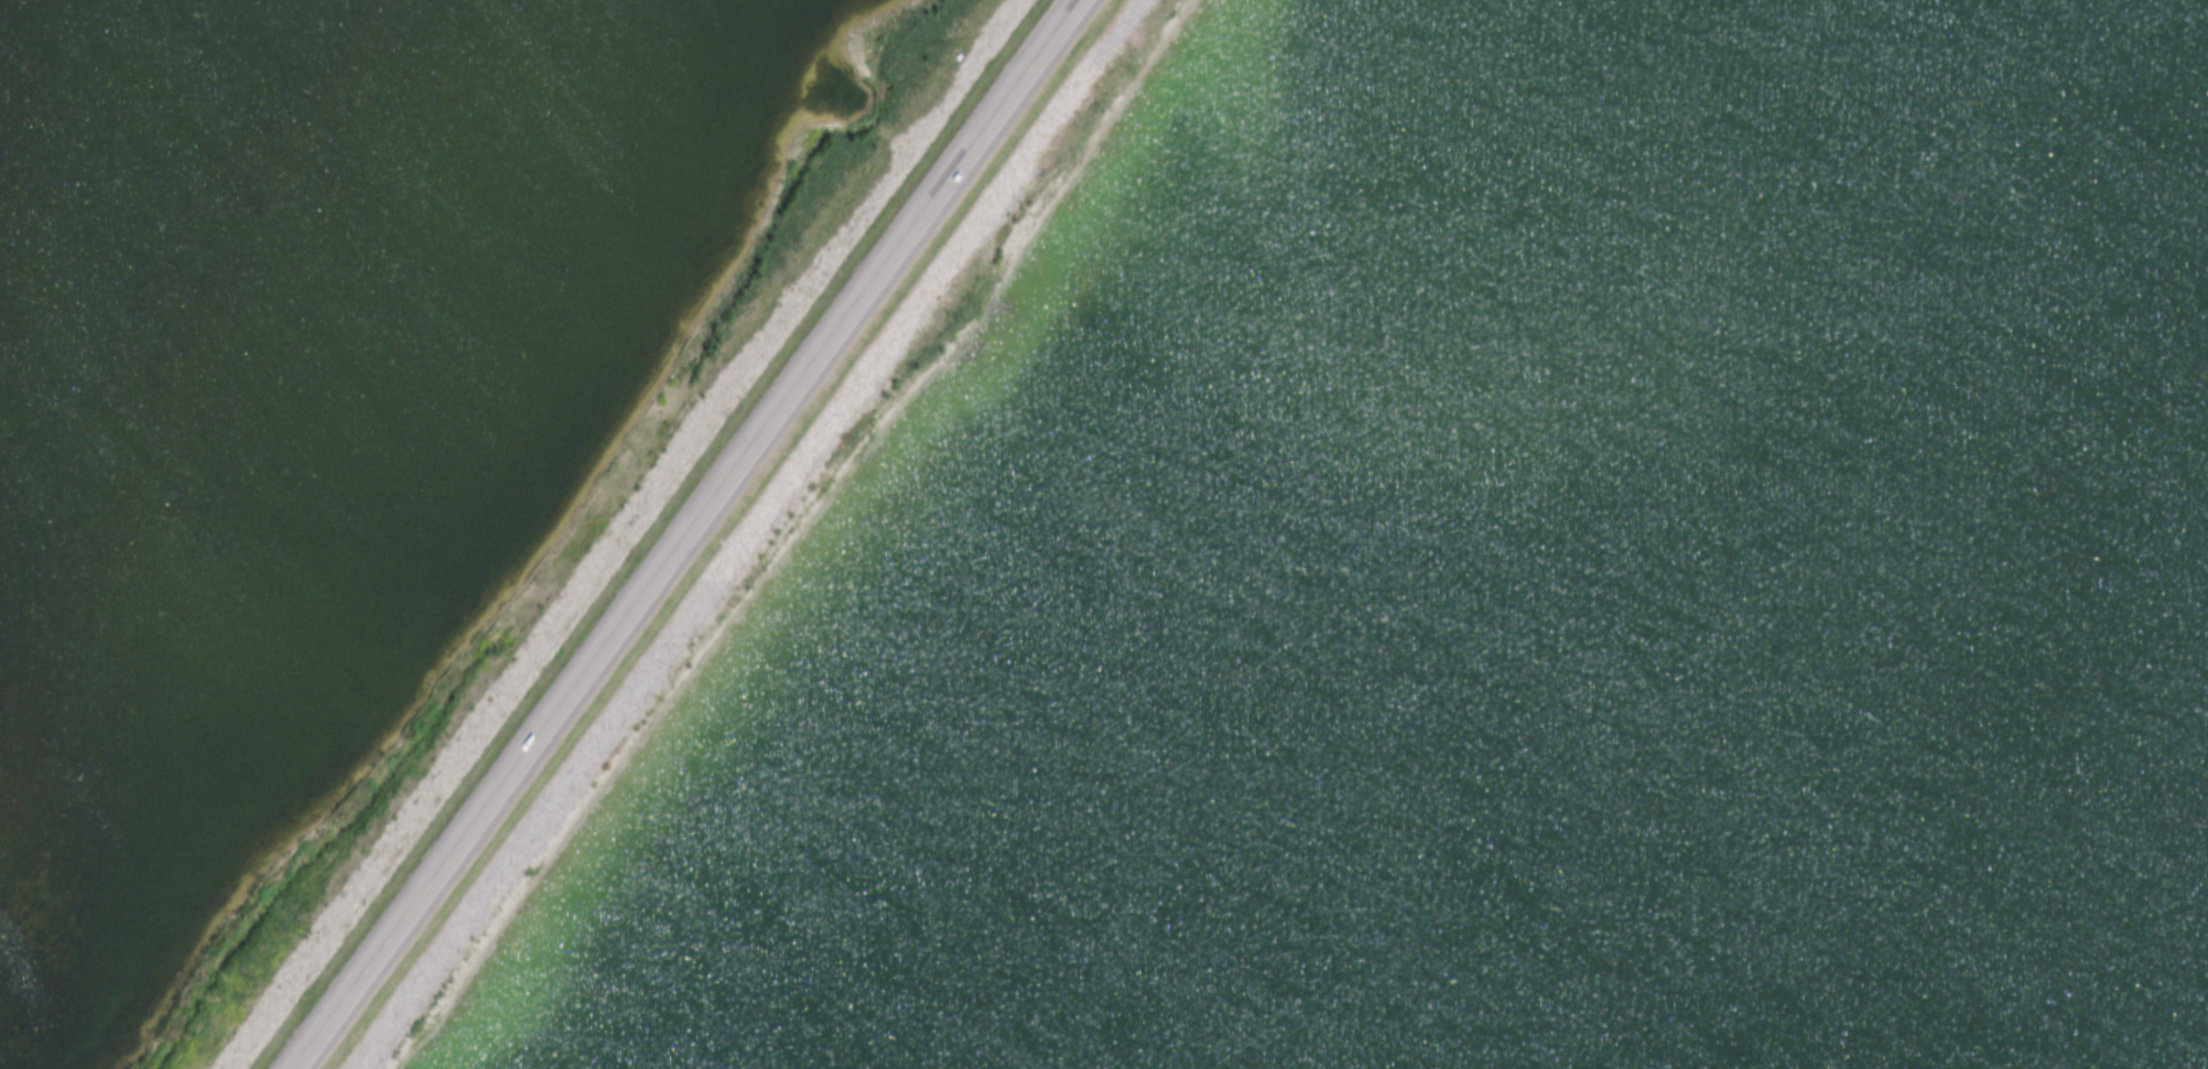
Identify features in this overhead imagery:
road: (695, 533)

